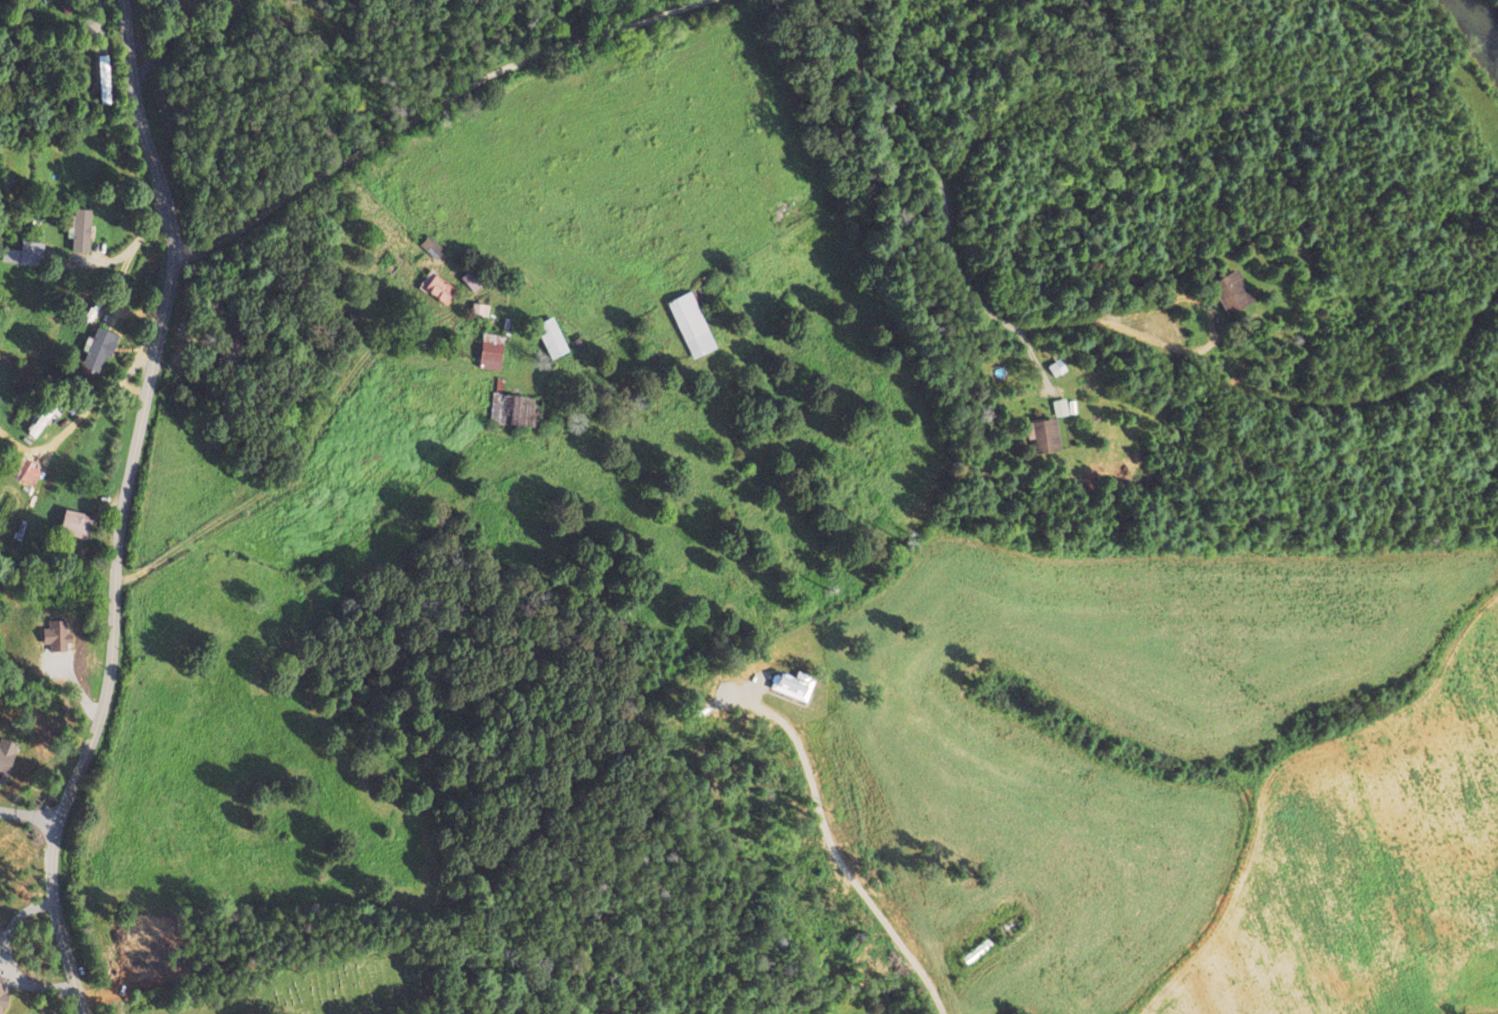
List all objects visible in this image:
river: (1479, 24)
building: (104, 78)
road: (429, 106)
building: (80, 230)
road: (948, 243)
building: (432, 247)
building: (30, 253)
building: (437, 287)
building: (1231, 292)
building: (480, 310)
building: (690, 325)
building: (551, 338)
building: (98, 349)
building: (490, 351)
building: (1059, 407)
building: (39, 423)
building: (1043, 436)
building: (27, 472)
road: (121, 509)
building: (76, 523)
building: (790, 685)
building: (6, 756)
road: (28, 815)

